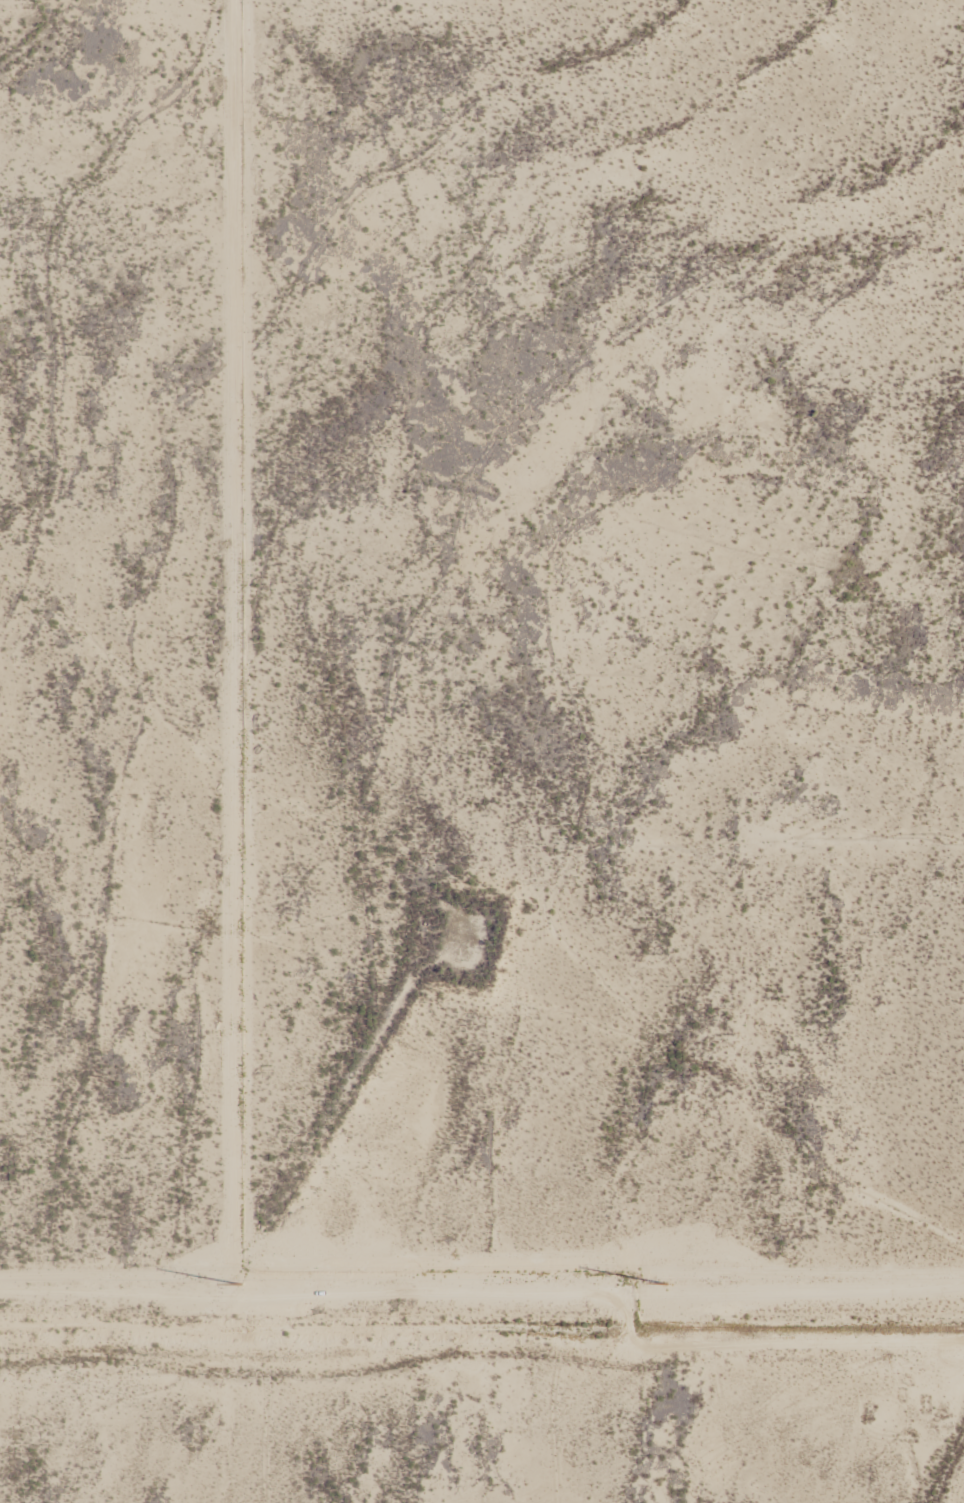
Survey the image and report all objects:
road: (928, 1431)

